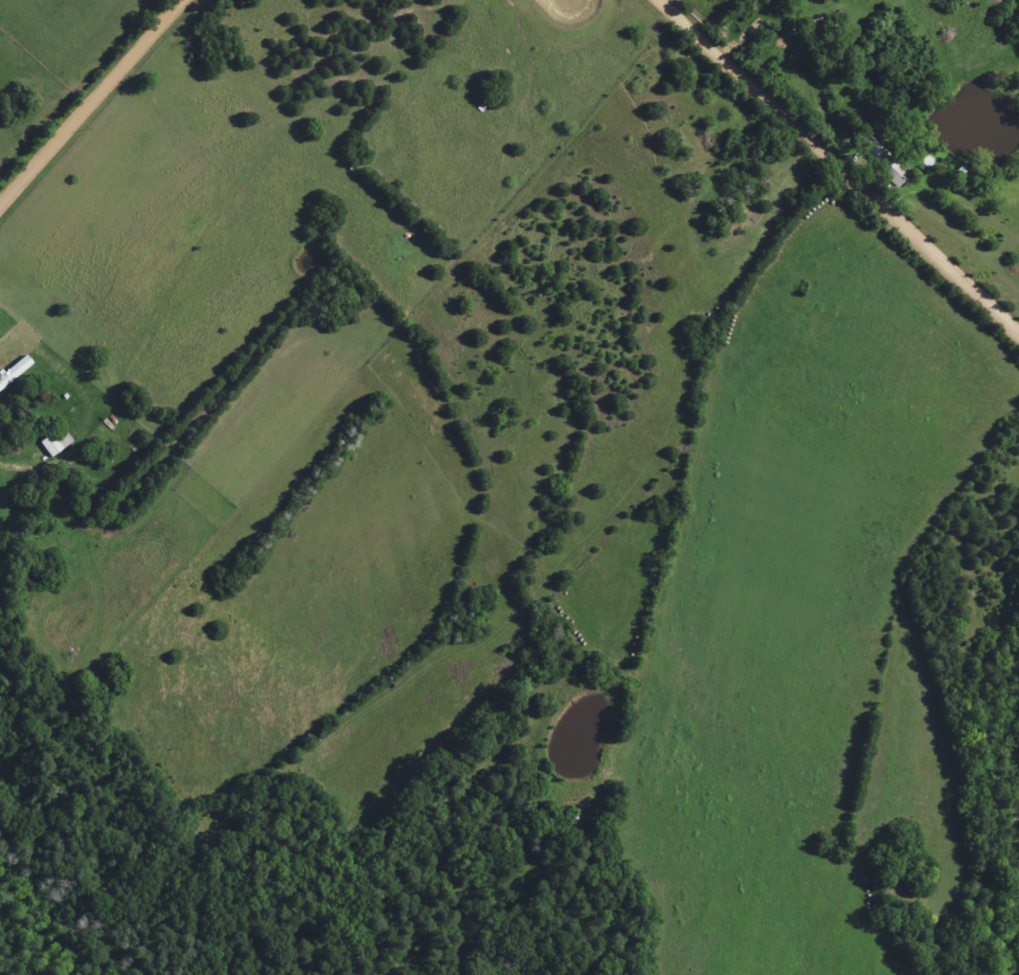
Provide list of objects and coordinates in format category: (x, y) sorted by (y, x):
road: (94, 106)
building: (874, 159)
road: (838, 167)
building: (11, 369)
building: (49, 442)

